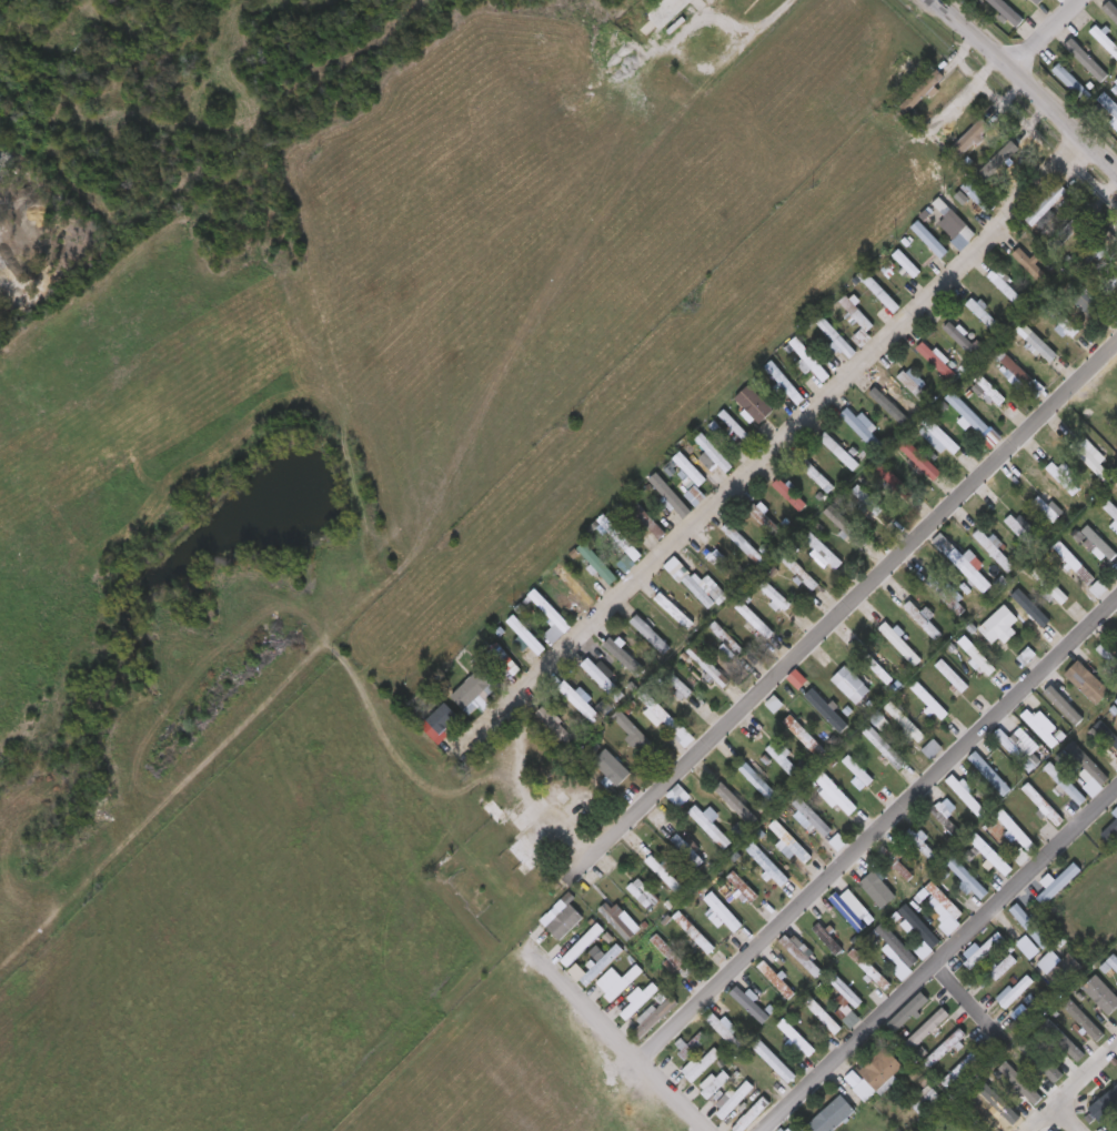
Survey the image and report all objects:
building: (985, 1)
building: (1039, 1)
building: (1111, 10)
building: (1008, 11)
building: (667, 12)
road: (1045, 37)
building: (1106, 39)
building: (1086, 61)
building: (1074, 83)
road: (1024, 89)
building: (1109, 103)
building: (973, 139)
building: (998, 159)
building: (983, 200)
building: (1049, 204)
building: (955, 220)
building: (1069, 231)
building: (930, 239)
building: (1087, 259)
building: (905, 264)
building: (1034, 266)
building: (1005, 284)
building: (1109, 287)
building: (878, 290)
building: (1080, 294)
building: (857, 314)
building: (986, 314)
building: (1063, 319)
building: (836, 335)
building: (964, 337)
building: (1037, 343)
building: (808, 360)
building: (939, 362)
building: (1020, 375)
building: (787, 385)
building: (915, 385)
building: (989, 393)
building: (758, 407)
building: (968, 415)
building: (735, 428)
building: (864, 431)
building: (943, 437)
building: (844, 450)
building: (715, 453)
road: (766, 453)
building: (920, 461)
building: (1094, 461)
building: (816, 473)
building: (695, 475)
building: (1061, 481)
building: (895, 483)
building: (792, 495)
building: (671, 496)
building: (1111, 507)
building: (1047, 508)
building: (648, 518)
building: (766, 519)
building: (847, 527)
building: (1019, 532)
building: (618, 541)
building: (1100, 542)
building: (748, 543)
building: (996, 548)
building: (825, 549)
building: (593, 562)
building: (1076, 562)
building: (969, 563)
building: (674, 568)
building: (722, 568)
building: (801, 572)
building: (1051, 585)
building: (574, 586)
building: (705, 590)
building: (947, 594)
building: (776, 596)
building: (673, 608)
road: (837, 614)
building: (551, 615)
building: (926, 617)
building: (755, 619)
building: (1007, 619)
building: (1037, 622)
building: (652, 633)
building: (728, 640)
building: (903, 642)
building: (1109, 654)
building: (627, 655)
building: (978, 655)
building: (505, 663)
building: (710, 667)
building: (875, 669)
building: (954, 676)
building: (603, 678)
building: (1091, 683)
building: (476, 688)
building: (677, 688)
building: (858, 694)
building: (580, 700)
building: (932, 700)
building: (1067, 704)
building: (774, 707)
building: (827, 709)
building: (661, 713)
building: (441, 723)
building: (906, 723)
building: (556, 725)
building: (1041, 726)
building: (1039, 731)
building: (635, 733)
building: (807, 734)
building: (1107, 735)
building: (884, 747)
building: (1017, 748)
building: (932, 751)
building: (785, 758)
road: (517, 764)
building: (613, 767)
building: (1090, 769)
building: (862, 771)
building: (993, 775)
building: (762, 781)
building: (1067, 784)
building: (475, 794)
building: (835, 794)
building: (969, 795)
road: (913, 796)
building: (678, 798)
building: (574, 800)
building: (738, 805)
building: (1044, 805)
building: (490, 806)
building: (898, 809)
building: (1115, 812)
building: (532, 814)
building: (814, 816)
building: (711, 825)
building: (945, 825)
building: (1018, 831)
building: (1110, 832)
road: (564, 841)
building: (791, 842)
building: (923, 842)
building: (837, 845)
building: (688, 848)
building: (526, 852)
building: (992, 855)
building: (898, 861)
building: (768, 865)
building: (895, 866)
building: (665, 872)
building: (968, 878)
building: (1058, 883)
building: (461, 887)
building: (874, 887)
building: (743, 889)
building: (641, 896)
building: (946, 900)
building: (718, 909)
building: (849, 911)
building: (618, 919)
building: (918, 926)
building: (1032, 926)
building: (696, 935)
building: (743, 938)
building: (582, 941)
building: (827, 941)
building: (803, 949)
building: (895, 951)
building: (983, 952)
building: (672, 957)
road: (937, 961)
building: (1111, 962)
building: (602, 965)
building: (1002, 968)
building: (871, 970)
building: (1065, 971)
building: (777, 979)
building: (622, 982)
building: (1015, 992)
building: (640, 1000)
road: (960, 1000)
building: (847, 1001)
building: (752, 1003)
road: (586, 1006)
building: (910, 1012)
building: (1032, 1012)
building: (654, 1016)
building: (824, 1016)
building: (1081, 1020)
building: (725, 1029)
building: (928, 1030)
building: (795, 1037)
building: (1066, 1041)
building: (948, 1047)
building: (692, 1048)
road: (640, 1059)
building: (1043, 1060)
building: (774, 1062)
building: (701, 1067)
building: (962, 1070)
building: (877, 1076)
building: (714, 1083)
building: (1022, 1083)
road: (1073, 1090)
building: (733, 1099)
building: (926, 1100)
building: (1000, 1103)
building: (1104, 1107)
building: (749, 1115)
building: (834, 1115)
road: (1067, 1118)
building: (789, 1130)

